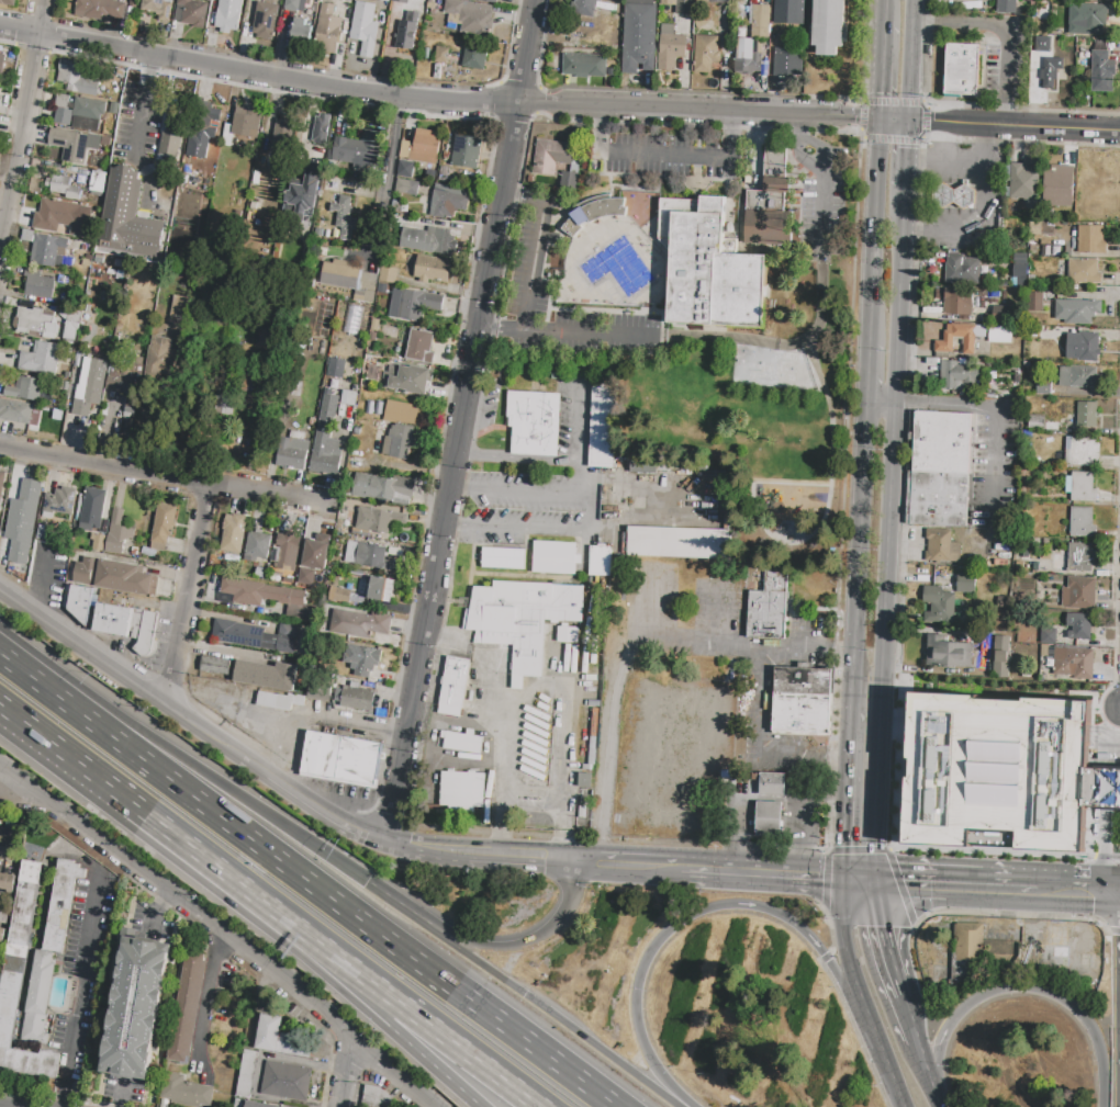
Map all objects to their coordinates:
building: (383, 0)
building: (401, 1)
building: (488, 1)
building: (703, 1)
building: (720, 1)
building: (8, 2)
building: (291, 4)
building: (680, 5)
building: (1006, 7)
building: (583, 8)
building: (100, 9)
building: (158, 9)
building: (739, 10)
building: (793, 10)
road: (884, 11)
building: (193, 12)
building: (469, 14)
building: (227, 16)
building: (1089, 20)
building: (266, 21)
building: (760, 22)
road: (960, 22)
building: (828, 26)
building: (365, 29)
building: (327, 30)
building: (301, 32)
building: (406, 32)
building: (639, 35)
building: (1042, 43)
building: (670, 48)
building: (706, 53)
building: (440, 55)
building: (474, 56)
building: (750, 57)
road: (909, 58)
building: (1, 60)
building: (787, 61)
building: (584, 66)
road: (1006, 66)
road: (881, 69)
building: (961, 69)
building: (1049, 69)
building: (437, 71)
building: (1102, 71)
road: (255, 74)
building: (79, 77)
traffic signals: (881, 93)
building: (113, 108)
building: (82, 112)
road: (817, 114)
building: (64, 116)
traffic signals: (853, 116)
road: (1004, 116)
building: (206, 120)
traffic signals: (931, 121)
road: (21, 122)
road: (792, 123)
building: (237, 128)
building: (321, 129)
road: (598, 129)
building: (407, 132)
road: (731, 135)
road: (135, 139)
building: (369, 140)
building: (199, 142)
building: (69, 145)
building: (170, 145)
building: (281, 145)
building: (421, 147)
traffic signals: (906, 148)
building: (339, 149)
building: (466, 151)
road: (905, 153)
road: (664, 156)
road: (813, 158)
building: (558, 160)
road: (947, 161)
building: (774, 162)
building: (405, 169)
building: (1060, 179)
road: (385, 180)
building: (1096, 180)
building: (99, 182)
building: (331, 184)
building: (776, 184)
building: (34, 185)
building: (1024, 185)
building: (64, 187)
building: (407, 188)
building: (942, 195)
building: (965, 195)
road: (520, 196)
building: (302, 197)
building: (448, 204)
building: (1090, 207)
building: (128, 213)
building: (592, 214)
building: (56, 215)
building: (344, 217)
building: (766, 217)
road: (987, 219)
building: (1037, 224)
building: (256, 229)
road: (873, 230)
building: (27, 236)
building: (1088, 239)
building: (429, 240)
building: (1033, 248)
building: (46, 250)
building: (1019, 258)
building: (88, 263)
road: (530, 267)
building: (82, 268)
building: (708, 268)
building: (119, 269)
building: (432, 269)
building: (961, 270)
building: (1084, 271)
building: (340, 274)
building: (388, 274)
park: (696, 279)
building: (1022, 282)
building: (38, 284)
building: (366, 289)
building: (397, 294)
building: (939, 296)
building: (74, 302)
building: (959, 302)
building: (1034, 303)
building: (418, 304)
building: (179, 306)
building: (394, 308)
building: (1077, 312)
building: (1000, 313)
building: (366, 320)
building: (15, 321)
building: (35, 321)
building: (374, 325)
building: (72, 326)
road: (816, 326)
road: (497, 331)
building: (1030, 331)
road: (585, 334)
building: (999, 334)
building: (371, 337)
building: (1083, 346)
building: (419, 347)
building: (943, 347)
building: (40, 359)
building: (158, 359)
building: (335, 368)
building: (63, 370)
road: (867, 372)
building: (373, 373)
building: (123, 376)
building: (559, 376)
building: (1077, 376)
building: (960, 377)
building: (356, 379)
building: (406, 379)
building: (91, 382)
building: (333, 383)
building: (61, 385)
building: (27, 391)
building: (348, 398)
road: (931, 405)
building: (20, 411)
building: (401, 413)
building: (58, 414)
building: (1087, 415)
road: (461, 420)
road: (574, 421)
building: (533, 422)
building: (1040, 423)
building: (602, 426)
building: (326, 438)
building: (399, 441)
building: (941, 442)
building: (293, 451)
building: (1082, 452)
road: (531, 458)
road: (996, 462)
building: (642, 465)
building: (300, 476)
road: (163, 478)
building: (1, 482)
road: (462, 485)
building: (1080, 487)
building: (383, 488)
road: (533, 488)
building: (937, 499)
building: (59, 500)
building: (609, 505)
building: (92, 509)
building: (22, 520)
building: (380, 520)
building: (1083, 522)
building: (163, 523)
road: (455, 526)
road: (549, 528)
building: (119, 532)
building: (233, 532)
road: (891, 536)
building: (97, 542)
building: (677, 542)
building: (257, 546)
building: (941, 546)
building: (285, 551)
building: (148, 552)
building: (316, 552)
road: (860, 552)
building: (368, 556)
building: (1082, 556)
building: (553, 557)
building: (503, 558)
building: (601, 561)
building: (83, 571)
building: (261, 573)
building: (306, 576)
building: (124, 578)
road: (43, 579)
building: (965, 581)
building: (381, 589)
building: (1078, 594)
road: (188, 595)
building: (259, 595)
building: (338, 595)
building: (1003, 599)
building: (79, 601)
building: (938, 606)
building: (769, 607)
road: (712, 613)
building: (523, 619)
building: (112, 620)
building: (359, 623)
building: (1078, 626)
building: (143, 630)
building: (567, 634)
building: (257, 635)
building: (1049, 636)
road: (811, 648)
building: (948, 653)
building: (1000, 655)
building: (367, 660)
road: (765, 660)
building: (1075, 664)
building: (214, 665)
building: (264, 676)
road: (136, 680)
building: (453, 686)
building: (357, 699)
building: (279, 700)
building: (802, 701)
road: (321, 721)
road: (501, 723)
road: (1117, 733)
road: (163, 741)
building: (460, 742)
road: (1118, 750)
building: (587, 755)
road: (837, 756)
building: (340, 757)
road: (608, 757)
building: (1003, 765)
building: (584, 780)
road: (16, 781)
building: (772, 784)
building: (461, 789)
building: (746, 790)
road: (16, 791)
road: (849, 794)
road: (558, 804)
road: (739, 804)
road: (326, 812)
building: (581, 812)
road: (804, 816)
building: (768, 818)
road: (149, 824)
building: (671, 828)
road: (1105, 828)
building: (9, 845)
traffic signals: (847, 847)
road: (481, 857)
road: (346, 867)
road: (628, 870)
road: (759, 878)
road: (306, 879)
traffic signals: (816, 881)
building: (7, 882)
road: (859, 883)
traffic signals: (904, 885)
road: (956, 888)
road: (1079, 892)
building: (61, 904)
road: (412, 912)
building: (3, 917)
road: (687, 917)
traffic signals: (878, 927)
building: (2, 936)
road: (540, 938)
road: (881, 940)
road: (235, 944)
building: (977, 950)
building: (1048, 957)
building: (22, 982)
road: (78, 986)
road: (860, 997)
road: (209, 999)
building: (38, 1001)
building: (188, 1007)
building: (136, 1009)
road: (904, 1020)
road: (953, 1021)
road: (415, 1023)
road: (385, 1025)
road: (568, 1027)
road: (1091, 1030)
building: (280, 1038)
building: (245, 1074)
road: (350, 1075)
road: (926, 1075)
building: (285, 1081)
building: (184, 1092)
building: (374, 1097)
road: (58, 1100)
building: (259, 1105)
road: (2, 1106)

